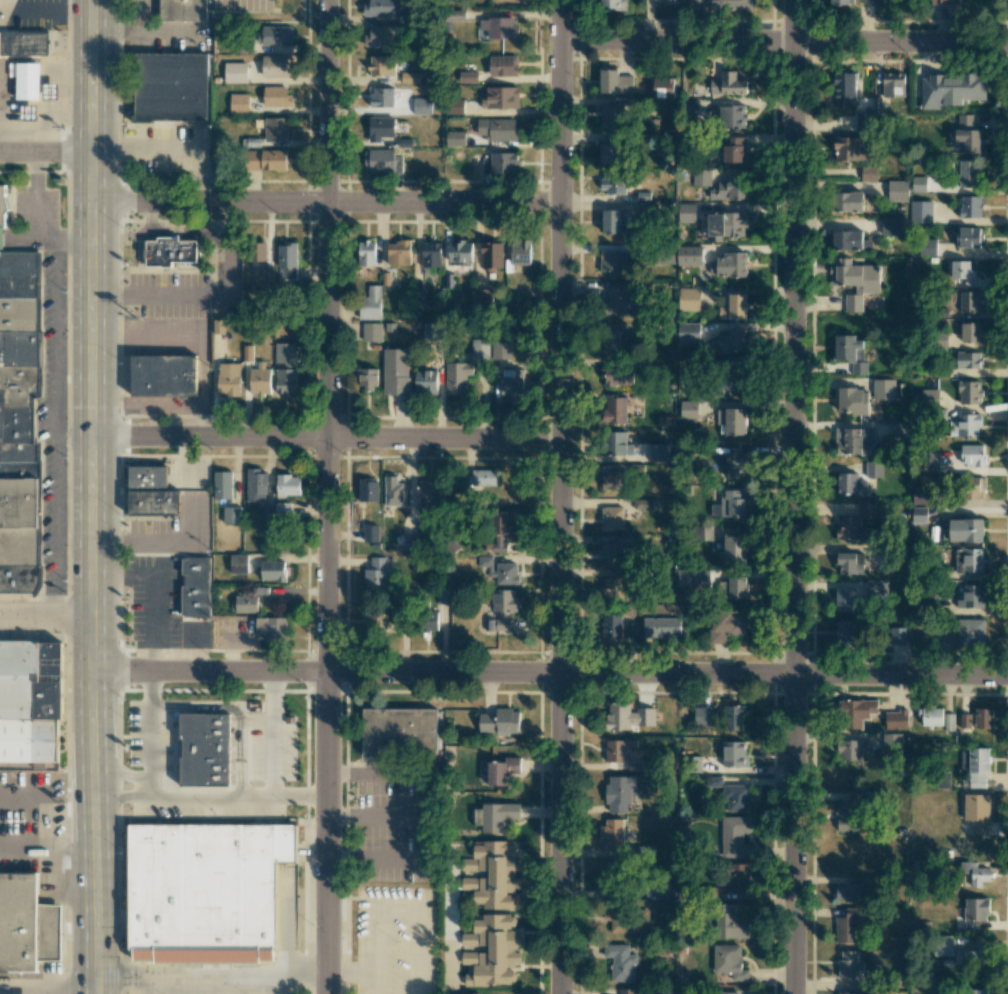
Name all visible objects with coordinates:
building: (662, 0)
building: (840, 2)
building: (943, 2)
parking lot: (243, 5)
building: (613, 5)
building: (720, 5)
building: (380, 8)
building: (183, 11)
building: (453, 16)
road: (137, 17)
building: (405, 17)
building: (498, 28)
road: (151, 34)
building: (274, 36)
building: (378, 36)
road: (784, 41)
building: (24, 45)
building: (275, 66)
building: (382, 66)
building: (503, 66)
building: (235, 72)
building: (468, 77)
building: (409, 78)
building: (28, 81)
building: (615, 82)
building: (727, 84)
building: (893, 84)
building: (171, 86)
building: (844, 86)
building: (663, 88)
building: (951, 90)
building: (276, 97)
building: (382, 97)
building: (501, 98)
building: (239, 103)
building: (876, 105)
building: (422, 106)
building: (456, 106)
building: (691, 108)
building: (28, 112)
building: (614, 113)
building: (731, 116)
building: (863, 121)
building: (380, 128)
building: (275, 129)
building: (497, 129)
building: (965, 134)
building: (455, 138)
road: (175, 146)
building: (851, 149)
building: (735, 150)
building: (609, 152)
road: (47, 155)
building: (266, 160)
building: (378, 160)
building: (499, 163)
building: (868, 173)
building: (967, 173)
building: (701, 177)
building: (612, 184)
building: (918, 184)
building: (732, 188)
building: (897, 191)
road: (327, 202)
building: (848, 202)
building: (4, 206)
building: (970, 206)
building: (644, 208)
building: (920, 211)
building: (686, 213)
building: (611, 221)
building: (724, 225)
road: (37, 226)
building: (892, 226)
building: (967, 237)
building: (849, 240)
road: (2, 241)
road: (21, 241)
building: (927, 247)
building: (257, 251)
building: (170, 252)
building: (460, 252)
building: (520, 252)
building: (366, 253)
building: (399, 253)
building: (431, 255)
building: (492, 255)
building: (689, 255)
building: (287, 261)
building: (612, 262)
building: (729, 265)
building: (962, 272)
building: (854, 280)
building: (421, 299)
building: (621, 299)
building: (689, 299)
building: (482, 300)
building: (969, 301)
building: (371, 304)
building: (733, 307)
building: (218, 326)
building: (432, 330)
building: (371, 332)
building: (688, 332)
building: (971, 332)
building: (615, 341)
building: (733, 341)
building: (480, 349)
building: (501, 350)
building: (850, 352)
building: (247, 353)
building: (284, 353)
building: (967, 360)
building: (396, 371)
building: (617, 376)
building: (163, 377)
building: (457, 377)
building: (367, 378)
building: (228, 379)
building: (259, 379)
building: (285, 381)
building: (425, 381)
building: (511, 382)
building: (736, 382)
building: (884, 389)
building: (969, 392)
building: (929, 397)
building: (853, 401)
building: (614, 409)
building: (688, 409)
building: (20, 420)
building: (732, 420)
building: (965, 426)
road: (57, 430)
building: (898, 431)
road: (327, 438)
building: (854, 441)
building: (617, 444)
building: (659, 452)
building: (972, 455)
building: (929, 462)
building: (735, 464)
building: (873, 469)
building: (484, 477)
building: (613, 479)
building: (850, 484)
building: (222, 485)
building: (256, 485)
building: (288, 485)
building: (975, 489)
building: (368, 490)
building: (429, 490)
building: (393, 491)
building: (149, 493)
road: (324, 496)
road: (795, 496)
road: (94, 497)
road: (559, 497)
building: (729, 504)
building: (282, 509)
building: (866, 510)
building: (231, 514)
building: (919, 514)
building: (612, 518)
building: (500, 529)
building: (852, 529)
building: (965, 530)
building: (703, 532)
building: (733, 550)
building: (617, 552)
building: (970, 560)
building: (485, 561)
building: (238, 563)
building: (846, 563)
building: (273, 571)
building: (506, 573)
building: (376, 574)
building: (197, 587)
building: (735, 587)
building: (617, 588)
building: (972, 595)
building: (844, 599)
building: (246, 604)
building: (501, 609)
road: (46, 619)
building: (429, 619)
building: (375, 620)
building: (725, 625)
building: (610, 626)
building: (661, 627)
building: (271, 628)
building: (844, 633)
building: (963, 634)
building: (897, 636)
road: (551, 673)
road: (241, 706)
building: (23, 711)
building: (856, 712)
building: (627, 716)
building: (702, 716)
building: (930, 716)
building: (733, 718)
building: (983, 718)
building: (895, 720)
building: (965, 720)
building: (949, 721)
road: (256, 722)
building: (499, 722)
building: (401, 732)
road: (150, 736)
building: (618, 749)
building: (851, 750)
building: (734, 754)
building: (201, 755)
road: (271, 760)
building: (634, 766)
building: (976, 766)
building: (502, 770)
road: (123, 773)
building: (714, 781)
building: (619, 793)
road: (211, 797)
building: (735, 798)
road: (123, 799)
building: (977, 812)
road: (381, 814)
road: (438, 816)
building: (497, 816)
building: (845, 816)
parking lot: (400, 822)
building: (612, 833)
building: (733, 836)
building: (973, 874)
building: (492, 875)
building: (737, 877)
building: (207, 883)
building: (661, 890)
building: (849, 892)
building: (975, 909)
road: (394, 910)
building: (626, 920)
building: (732, 925)
building: (847, 926)
building: (28, 927)
parking lot: (396, 940)
building: (942, 945)
building: (492, 951)
building: (967, 959)
building: (729, 961)
building: (620, 962)
building: (849, 968)
road: (350, 976)
road: (47, 985)
road: (146, 986)
road: (209, 988)
road: (42, 989)
road: (273, 989)
road: (192, 991)
road: (232, 991)
building: (626, 991)
building: (974, 991)
building: (729, 992)
building: (846, 993)

